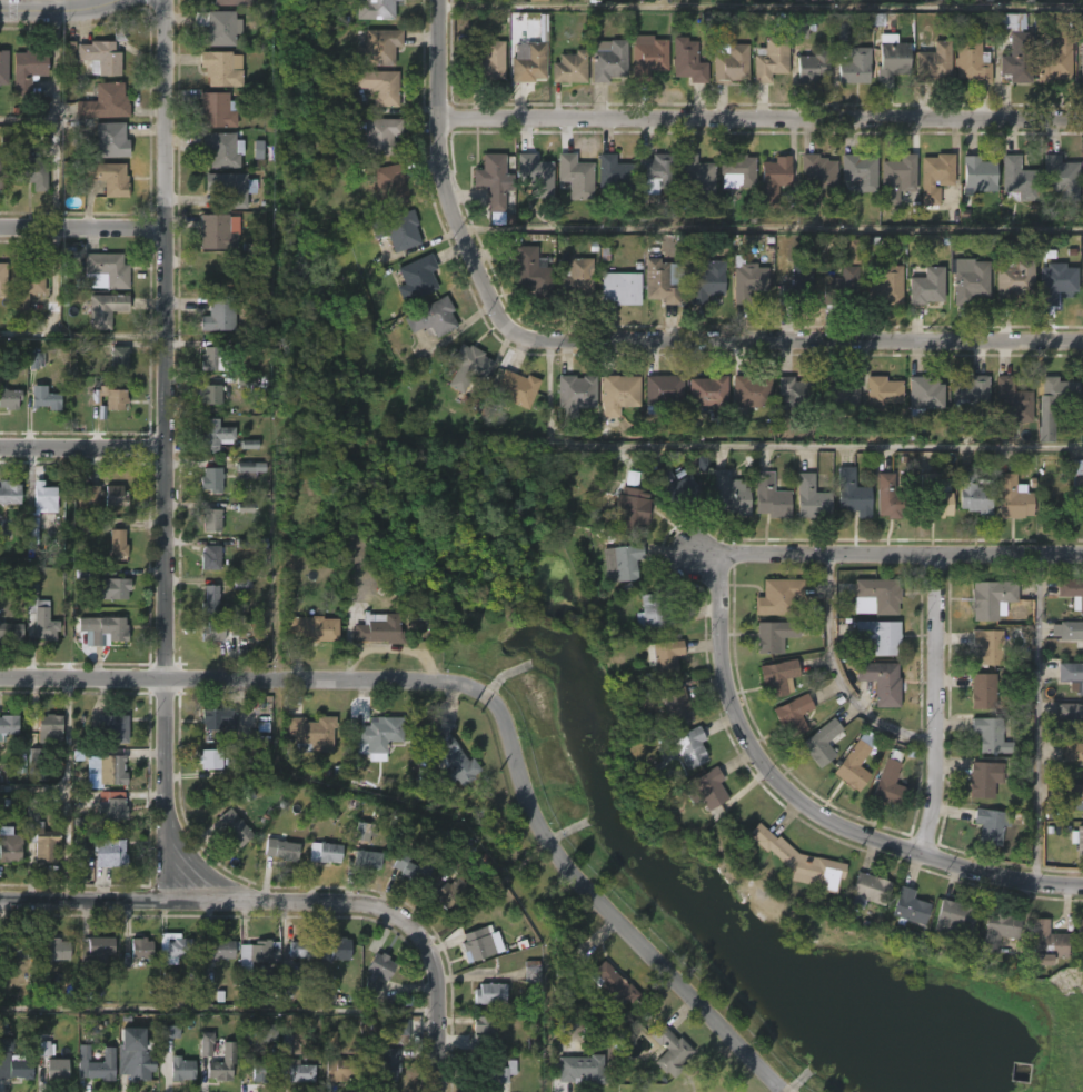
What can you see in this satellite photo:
building: (536, 0)
building: (232, 2)
road: (59, 4)
road: (60, 10)
building: (375, 10)
building: (216, 27)
building: (799, 29)
building: (841, 30)
building: (1013, 47)
building: (378, 48)
building: (649, 52)
building: (99, 57)
building: (1053, 58)
building: (771, 59)
building: (609, 60)
building: (687, 60)
building: (893, 60)
building: (972, 61)
building: (489, 62)
building: (731, 62)
building: (529, 63)
building: (934, 63)
building: (1081, 64)
building: (813, 66)
building: (2, 67)
building: (854, 67)
building: (569, 68)
building: (221, 69)
building: (26, 70)
building: (378, 87)
building: (103, 101)
building: (216, 110)
road: (761, 117)
road: (28, 118)
road: (57, 118)
building: (375, 137)
building: (110, 139)
building: (221, 149)
road: (447, 160)
building: (736, 170)
building: (4, 171)
building: (29, 171)
building: (860, 171)
building: (655, 172)
building: (533, 175)
building: (576, 175)
building: (615, 175)
building: (106, 176)
building: (974, 176)
building: (695, 177)
building: (896, 177)
building: (1060, 177)
building: (816, 178)
building: (773, 179)
building: (1015, 179)
building: (1081, 179)
building: (491, 180)
building: (934, 181)
building: (389, 186)
building: (231, 189)
road: (82, 227)
road: (774, 228)
building: (217, 231)
building: (396, 232)
building: (854, 251)
building: (885, 256)
building: (108, 267)
building: (534, 272)
building: (416, 277)
building: (1013, 278)
building: (2, 279)
building: (576, 279)
building: (659, 280)
building: (747, 280)
building: (966, 280)
building: (706, 281)
building: (1053, 281)
building: (839, 284)
building: (887, 285)
building: (797, 286)
building: (624, 287)
building: (926, 287)
building: (26, 288)
building: (1082, 290)
building: (107, 309)
building: (222, 314)
building: (433, 316)
road: (787, 337)
building: (217, 358)
building: (121, 359)
building: (33, 360)
building: (470, 367)
building: (516, 387)
building: (576, 391)
building: (662, 391)
building: (748, 391)
building: (618, 393)
building: (878, 393)
building: (210, 394)
building: (705, 395)
building: (792, 395)
building: (835, 395)
building: (921, 395)
building: (967, 397)
building: (9, 398)
building: (111, 398)
building: (1010, 399)
building: (48, 400)
building: (1053, 404)
building: (216, 435)
building: (249, 445)
road: (767, 446)
road: (82, 448)
building: (250, 468)
building: (211, 478)
building: (1077, 484)
building: (678, 489)
building: (9, 493)
building: (729, 493)
building: (852, 493)
building: (972, 493)
building: (115, 495)
building: (771, 496)
building: (811, 497)
building: (927, 497)
building: (42, 498)
building: (888, 498)
building: (1011, 498)
building: (630, 507)
building: (209, 519)
building: (32, 527)
building: (117, 543)
road: (901, 553)
building: (210, 557)
building: (622, 562)
building: (109, 588)
building: (1071, 593)
building: (876, 594)
building: (777, 597)
building: (211, 600)
building: (988, 600)
building: (653, 612)
building: (41, 617)
building: (316, 628)
building: (380, 628)
building: (219, 629)
building: (11, 631)
building: (101, 631)
building: (1070, 632)
building: (774, 635)
building: (878, 635)
road: (166, 642)
building: (990, 647)
building: (667, 657)
road: (838, 674)
building: (1071, 675)
building: (777, 677)
building: (881, 682)
building: (981, 692)
road: (496, 697)
road: (937, 701)
building: (677, 705)
building: (793, 714)
road: (1036, 715)
building: (1070, 717)
building: (217, 718)
building: (8, 725)
building: (110, 726)
building: (48, 728)
building: (314, 734)
building: (377, 735)
building: (988, 736)
building: (818, 743)
building: (689, 745)
building: (1072, 754)
building: (453, 756)
building: (216, 760)
building: (849, 767)
building: (109, 768)
building: (984, 778)
building: (887, 781)
road: (68, 787)
building: (712, 787)
road: (33, 790)
building: (1072, 795)
road: (819, 804)
building: (111, 811)
building: (988, 825)
building: (235, 827)
building: (362, 832)
building: (39, 834)
building: (1076, 841)
building: (9, 844)
building: (281, 850)
building: (107, 852)
building: (325, 852)
building: (367, 858)
building: (797, 861)
building: (414, 865)
building: (454, 885)
building: (865, 889)
road: (122, 897)
building: (908, 907)
building: (951, 915)
building: (997, 930)
building: (1077, 930)
building: (1045, 942)
building: (480, 944)
building: (181, 946)
building: (225, 947)
building: (306, 947)
building: (342, 947)
building: (14, 949)
building: (140, 949)
building: (56, 950)
building: (262, 950)
building: (95, 951)
building: (376, 974)
building: (531, 974)
building: (289, 977)
building: (147, 980)
building: (615, 983)
building: (494, 993)
road: (220, 1009)
building: (486, 1029)
building: (403, 1031)
building: (206, 1044)
building: (44, 1048)
building: (668, 1051)
building: (132, 1055)
building: (97, 1063)
building: (222, 1064)
building: (342, 1066)
building: (389, 1066)
building: (22, 1068)
building: (185, 1069)
building: (584, 1069)
building: (56, 1070)
building: (262, 1071)
building: (302, 1071)
building: (506, 1071)

